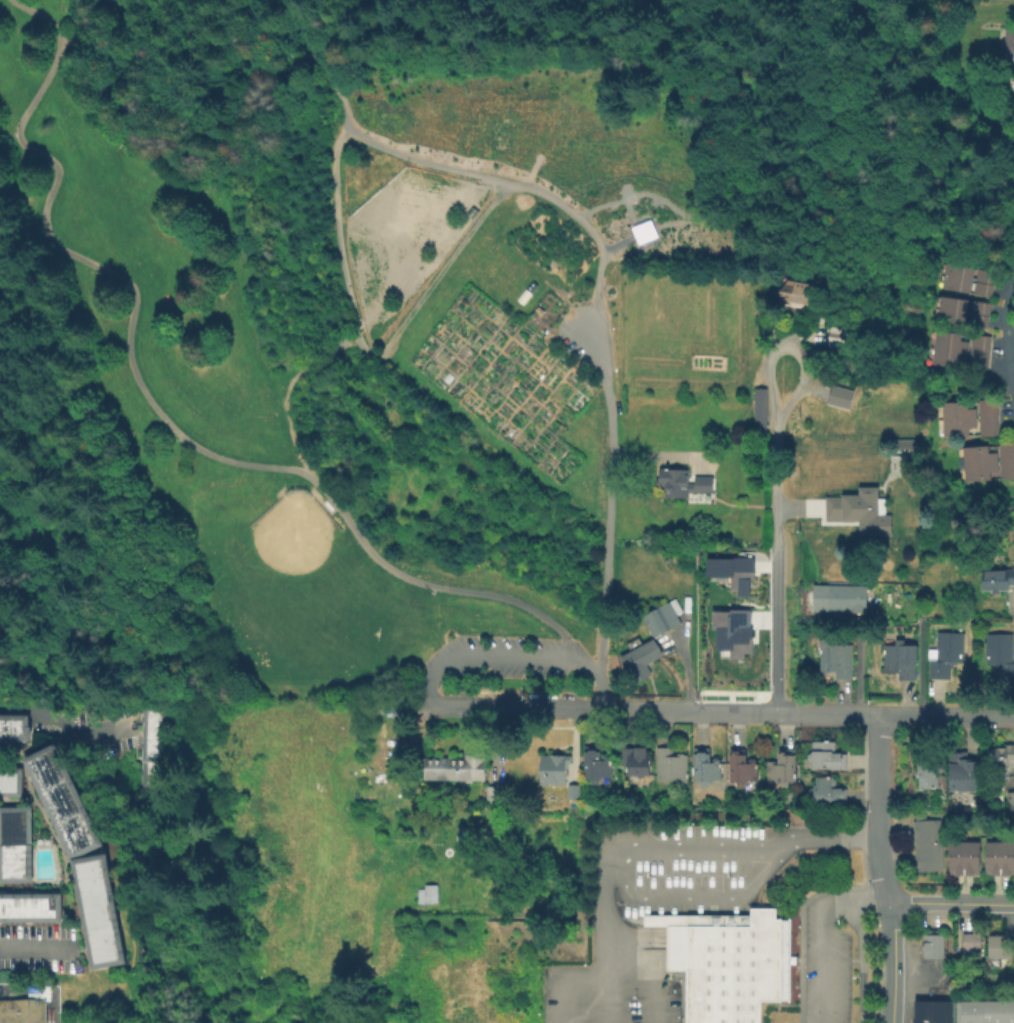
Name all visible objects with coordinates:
road: (70, 14)
road: (39, 15)
road: (223, 22)
road: (344, 29)
building: (1007, 42)
road: (667, 43)
road: (259, 50)
road: (137, 62)
road: (209, 63)
road: (331, 82)
road: (39, 92)
road: (11, 157)
road: (755, 178)
road: (523, 186)
road: (337, 241)
building: (966, 275)
road: (431, 283)
building: (964, 287)
building: (793, 291)
building: (961, 307)
park: (383, 312)
building: (815, 315)
building: (959, 320)
road: (1008, 336)
building: (833, 340)
building: (959, 344)
road: (327, 354)
building: (957, 362)
road: (770, 387)
building: (837, 398)
road: (285, 411)
building: (757, 411)
building: (967, 411)
building: (985, 417)
building: (968, 428)
building: (900, 444)
building: (988, 456)
road: (222, 459)
building: (987, 473)
building: (679, 481)
road: (609, 501)
building: (858, 510)
park: (293, 533)
building: (729, 571)
building: (997, 579)
building: (837, 597)
building: (1010, 599)
road: (1012, 603)
park: (301, 618)
road: (773, 630)
building: (731, 632)
building: (648, 644)
road: (480, 652)
building: (943, 656)
parking lot: (501, 660)
building: (833, 660)
building: (998, 660)
building: (897, 662)
road: (587, 666)
road: (919, 666)
road: (857, 670)
road: (600, 695)
road: (840, 701)
road: (514, 709)
road: (648, 711)
road: (735, 712)
road: (825, 713)
road: (944, 716)
road: (58, 724)
building: (12, 731)
building: (151, 757)
building: (823, 757)
building: (999, 759)
building: (632, 762)
building: (668, 766)
building: (592, 767)
building: (703, 767)
building: (738, 768)
building: (452, 770)
building: (780, 770)
building: (549, 772)
building: (924, 774)
building: (959, 774)
building: (9, 782)
building: (571, 794)
building: (824, 795)
building: (490, 797)
building: (57, 801)
building: (1009, 803)
road: (875, 809)
road: (827, 843)
building: (13, 845)
building: (925, 847)
road: (609, 853)
building: (953, 858)
building: (968, 859)
building: (989, 859)
building: (1004, 859)
building: (425, 897)
road: (690, 899)
road: (952, 901)
building: (29, 909)
building: (94, 912)
road: (824, 932)
building: (969, 942)
road: (32, 948)
building: (931, 948)
building: (997, 948)
road: (859, 961)
road: (894, 961)
building: (725, 963)
road: (604, 979)
flagpole: (795, 983)
road: (47, 1006)
building: (23, 1009)
building: (930, 1011)
building: (984, 1012)

